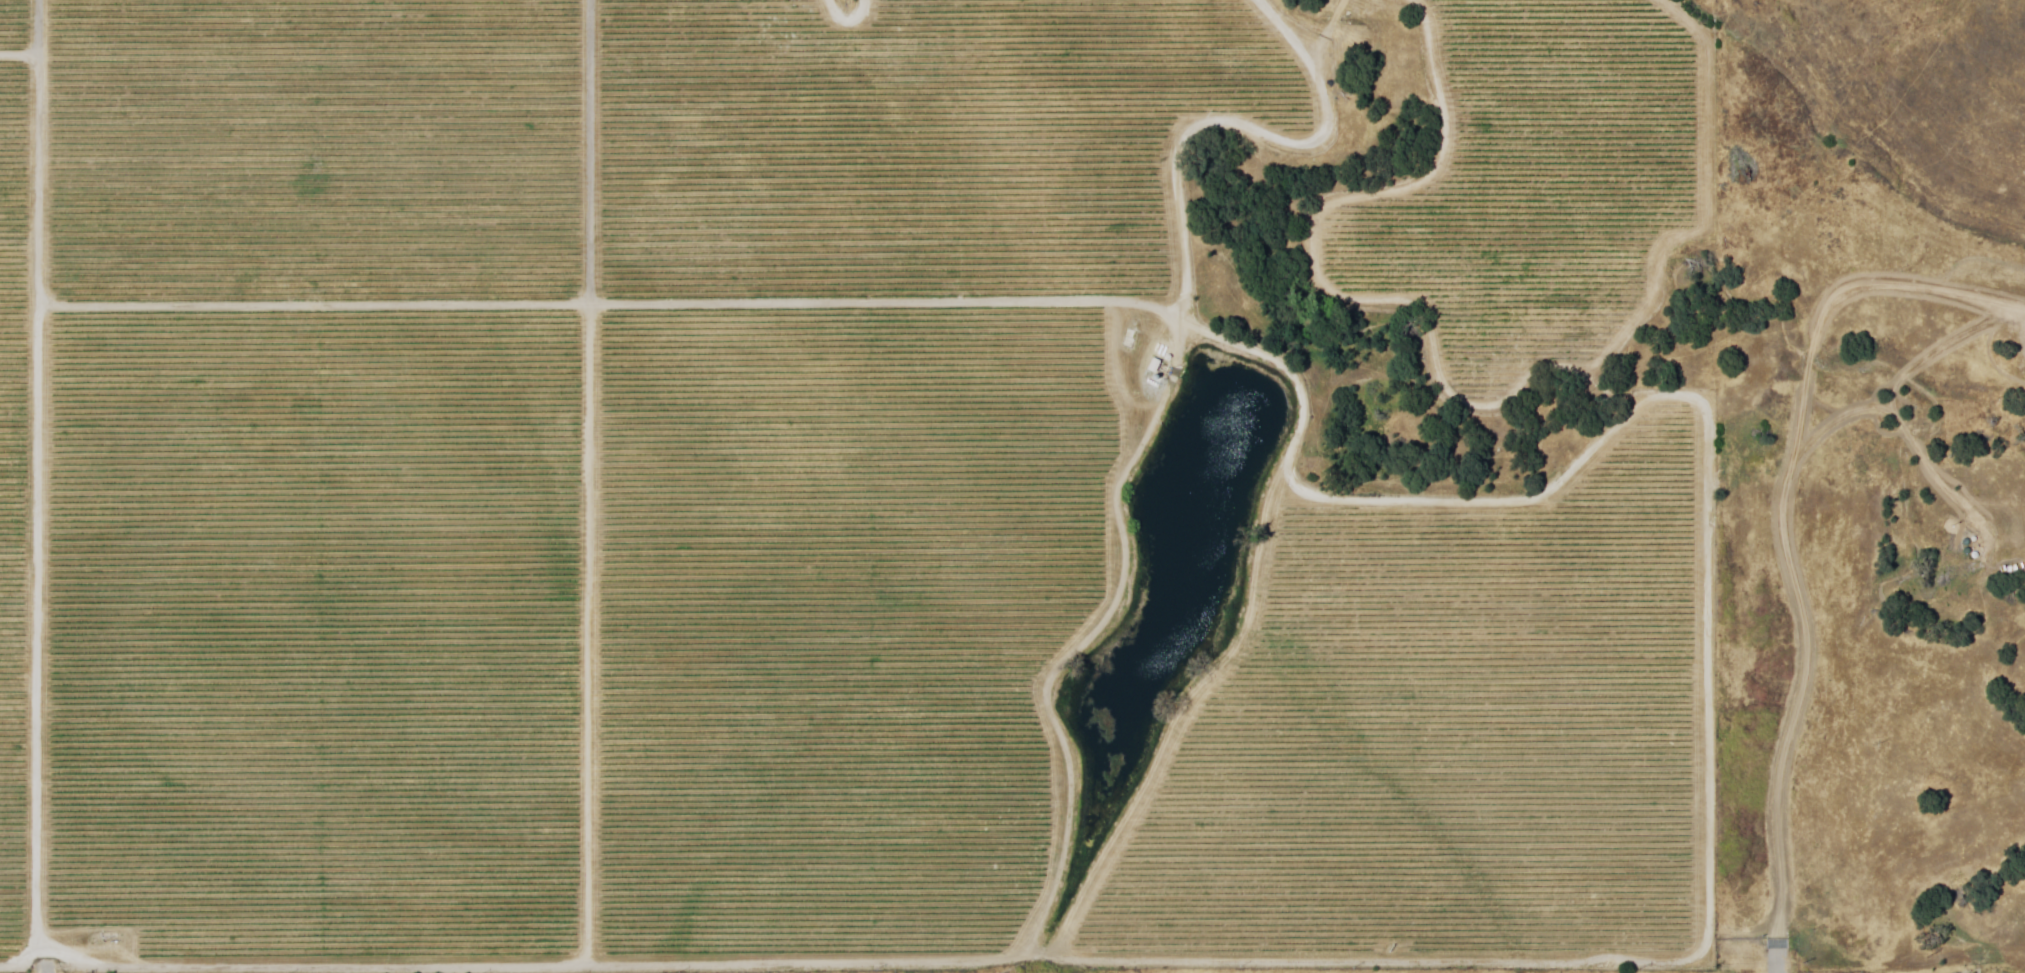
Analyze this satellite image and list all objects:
road: (1787, 538)

